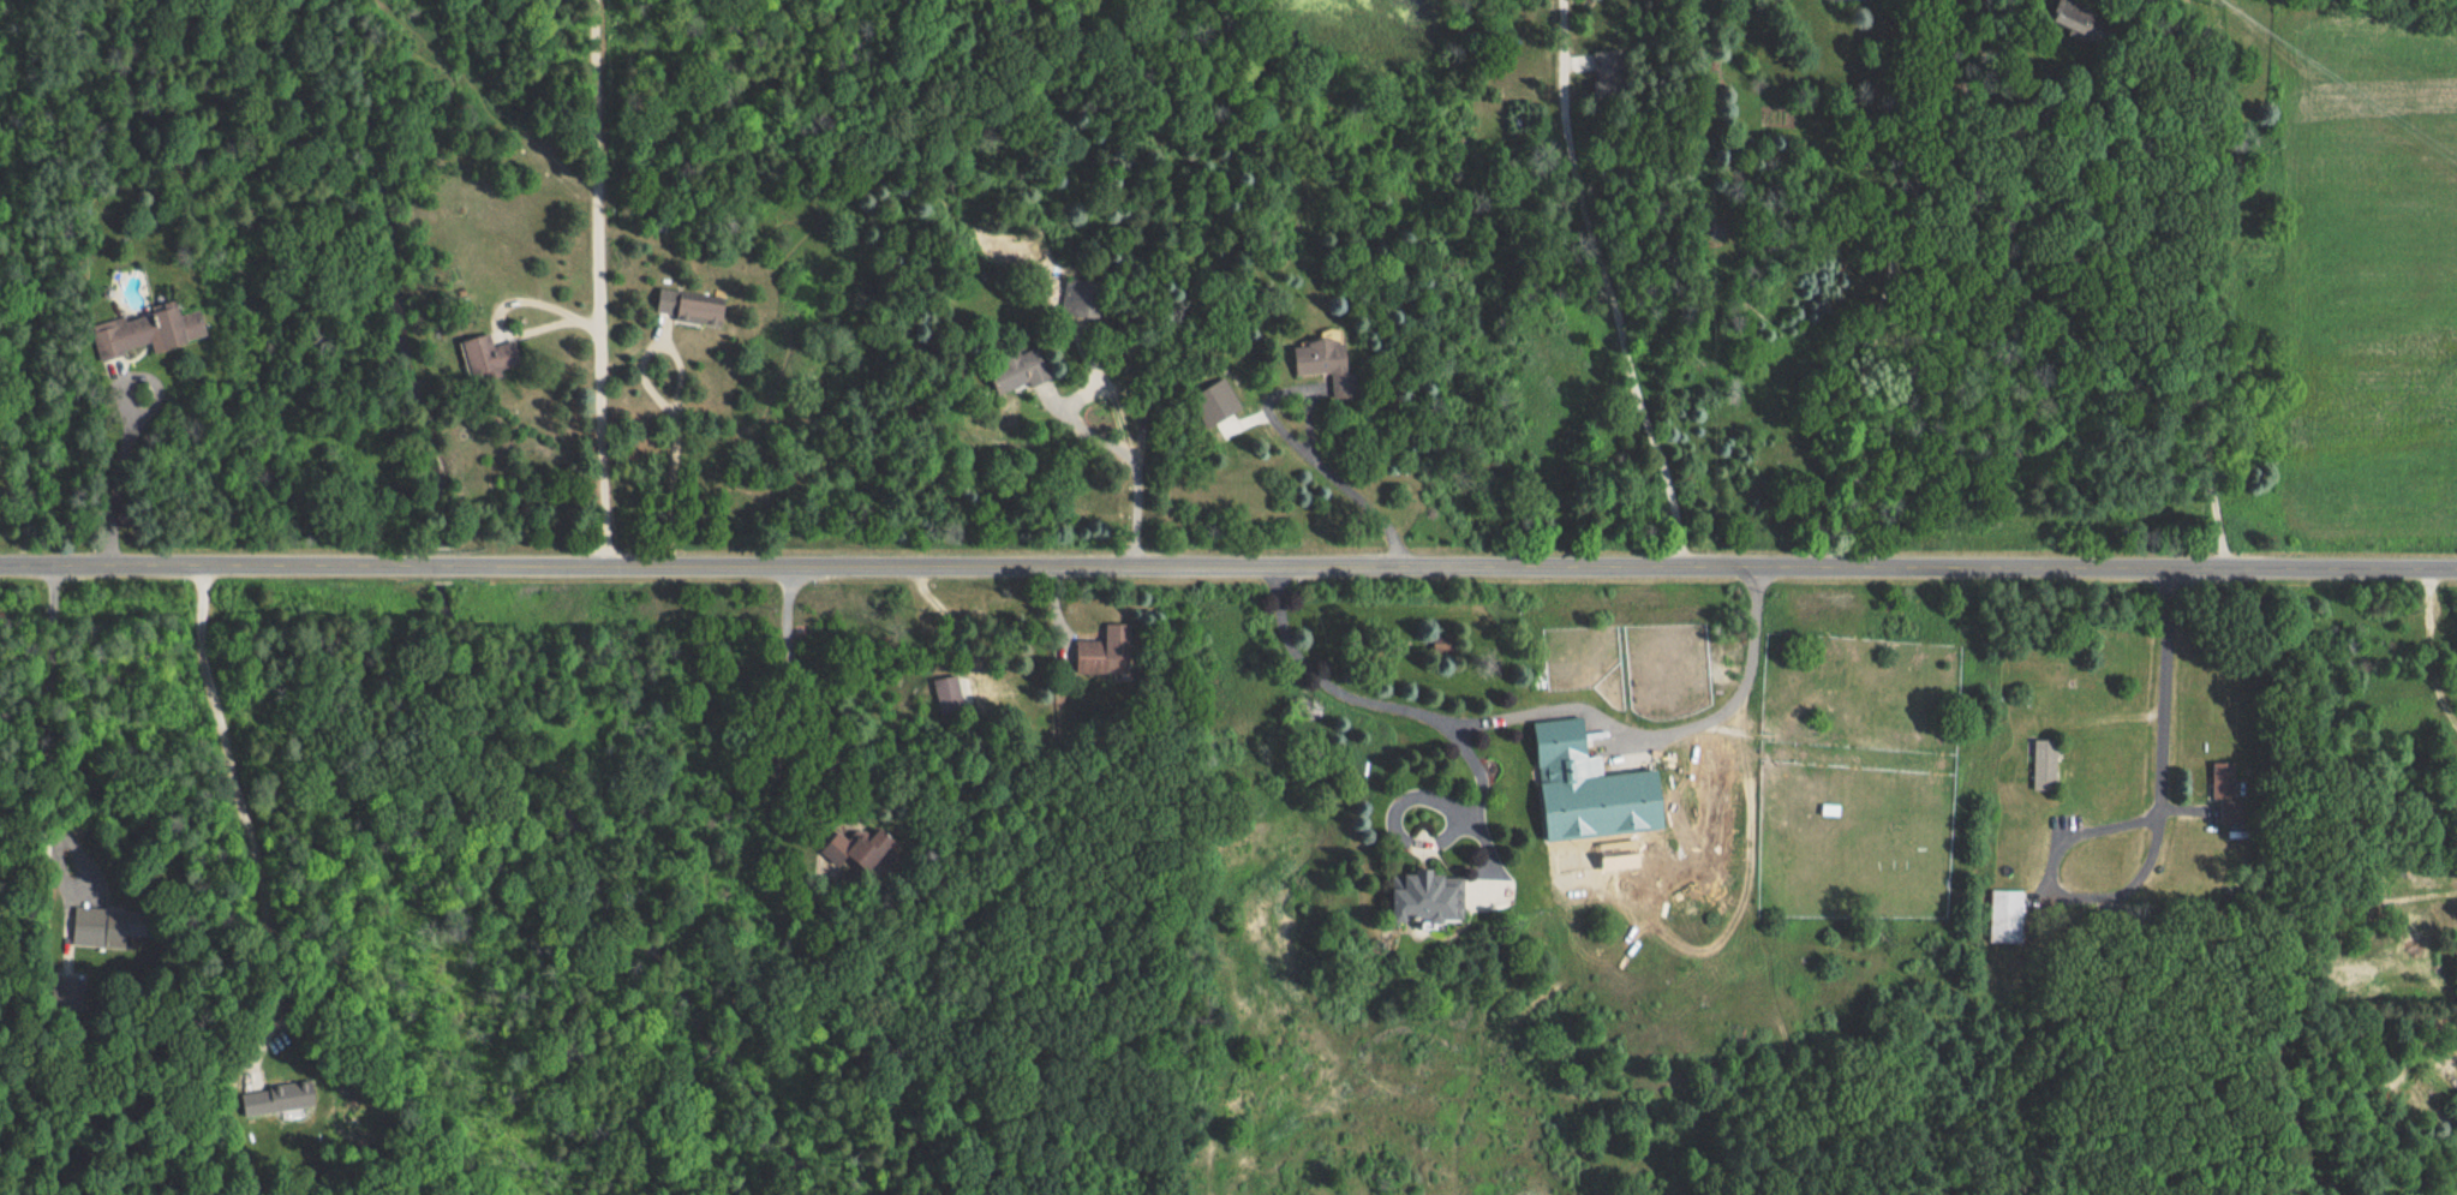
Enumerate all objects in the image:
building: (1853, 0)
building: (2079, 16)
building: (1607, 67)
road: (598, 282)
road: (1885, 282)
road: (1607, 286)
building: (1083, 299)
building: (691, 306)
building: (148, 331)
building: (482, 355)
building: (1332, 364)
building: (1020, 371)
road: (1298, 442)
road: (1132, 459)
road: (118, 465)
road: (101, 563)
road: (405, 564)
road: (1530, 568)
building: (1105, 651)
building: (946, 693)
road: (1537, 710)
road: (829, 736)
building: (1564, 741)
building: (2049, 763)
road: (55, 765)
road: (1479, 794)
road: (1466, 815)
road: (245, 819)
road: (1413, 841)
building: (857, 847)
road: (2153, 847)
building: (1429, 896)
building: (2009, 915)
building: (267, 1100)

